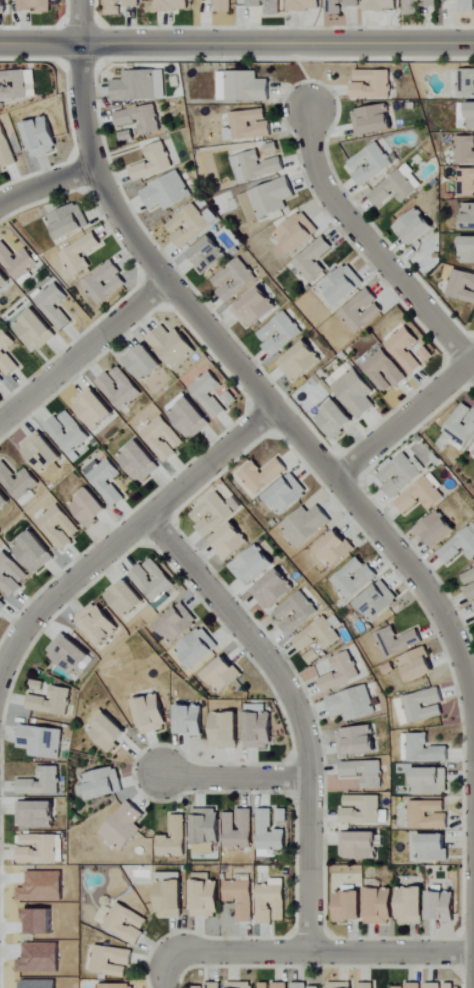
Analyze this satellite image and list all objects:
building: (35, 5)
building: (173, 5)
building: (306, 5)
building: (383, 5)
building: (467, 5)
building: (4, 6)
building: (121, 6)
building: (223, 6)
building: (268, 6)
building: (342, 6)
building: (418, 6)
road: (80, 21)
road: (236, 43)
building: (466, 82)
building: (373, 84)
building: (13, 85)
building: (141, 85)
building: (243, 86)
building: (466, 116)
building: (141, 118)
building: (373, 120)
building: (248, 125)
building: (127, 135)
building: (42, 136)
building: (273, 147)
building: (6, 149)
building: (465, 149)
building: (154, 162)
building: (371, 163)
building: (256, 166)
building: (466, 182)
road: (46, 184)
building: (397, 187)
building: (168, 192)
building: (268, 199)
building: (468, 215)
building: (69, 221)
building: (188, 226)
building: (416, 227)
building: (296, 234)
road: (368, 244)
building: (467, 249)
building: (81, 254)
building: (208, 254)
building: (314, 260)
building: (18, 261)
building: (3, 279)
building: (234, 279)
building: (105, 283)
building: (344, 285)
building: (462, 285)
building: (55, 305)
building: (255, 308)
building: (362, 311)
building: (37, 330)
building: (280, 333)
building: (173, 346)
building: (405, 349)
road: (83, 350)
building: (7, 353)
building: (427, 354)
road: (471, 358)
building: (301, 361)
building: (144, 362)
road: (471, 363)
building: (385, 371)
building: (1, 380)
road: (254, 385)
building: (120, 388)
building: (354, 389)
building: (210, 394)
building: (94, 408)
building: (335, 417)
building: (191, 418)
road: (401, 420)
building: (462, 425)
building: (69, 432)
building: (164, 438)
building: (42, 452)
building: (139, 461)
building: (400, 473)
building: (263, 475)
building: (105, 480)
building: (19, 483)
building: (287, 495)
building: (422, 496)
building: (3, 500)
building: (90, 507)
building: (214, 514)
building: (307, 525)
building: (60, 527)
building: (438, 530)
road: (128, 532)
building: (233, 542)
building: (460, 546)
building: (337, 548)
building: (35, 551)
building: (254, 566)
building: (11, 575)
building: (355, 578)
building: (153, 580)
building: (470, 583)
building: (275, 590)
building: (126, 598)
building: (378, 602)
building: (2, 606)
building: (297, 613)
building: (98, 624)
building: (177, 624)
building: (319, 636)
building: (397, 641)
building: (198, 648)
building: (69, 653)
building: (314, 656)
building: (416, 666)
building: (342, 673)
building: (224, 675)
building: (37, 686)
building: (52, 702)
building: (353, 704)
building: (420, 706)
road: (296, 709)
building: (153, 714)
building: (193, 720)
building: (108, 730)
building: (227, 730)
building: (260, 730)
building: (42, 741)
building: (357, 741)
building: (422, 749)
building: (366, 773)
road: (235, 776)
building: (428, 782)
building: (43, 783)
building: (103, 784)
building: (37, 814)
building: (428, 815)
building: (124, 827)
building: (239, 829)
building: (207, 830)
building: (269, 834)
building: (174, 839)
building: (360, 845)
building: (433, 847)
building: (39, 849)
building: (171, 895)
building: (207, 899)
building: (242, 899)
building: (273, 901)
building: (351, 906)
building: (381, 906)
building: (413, 906)
building: (443, 906)
road: (335, 953)
building: (111, 961)
road: (173, 962)
building: (242, 985)
building: (265, 985)
building: (280, 985)
building: (340, 985)
building: (366, 985)
building: (434, 985)
building: (115, 986)
building: (208, 986)
building: (306, 986)
building: (412, 986)

